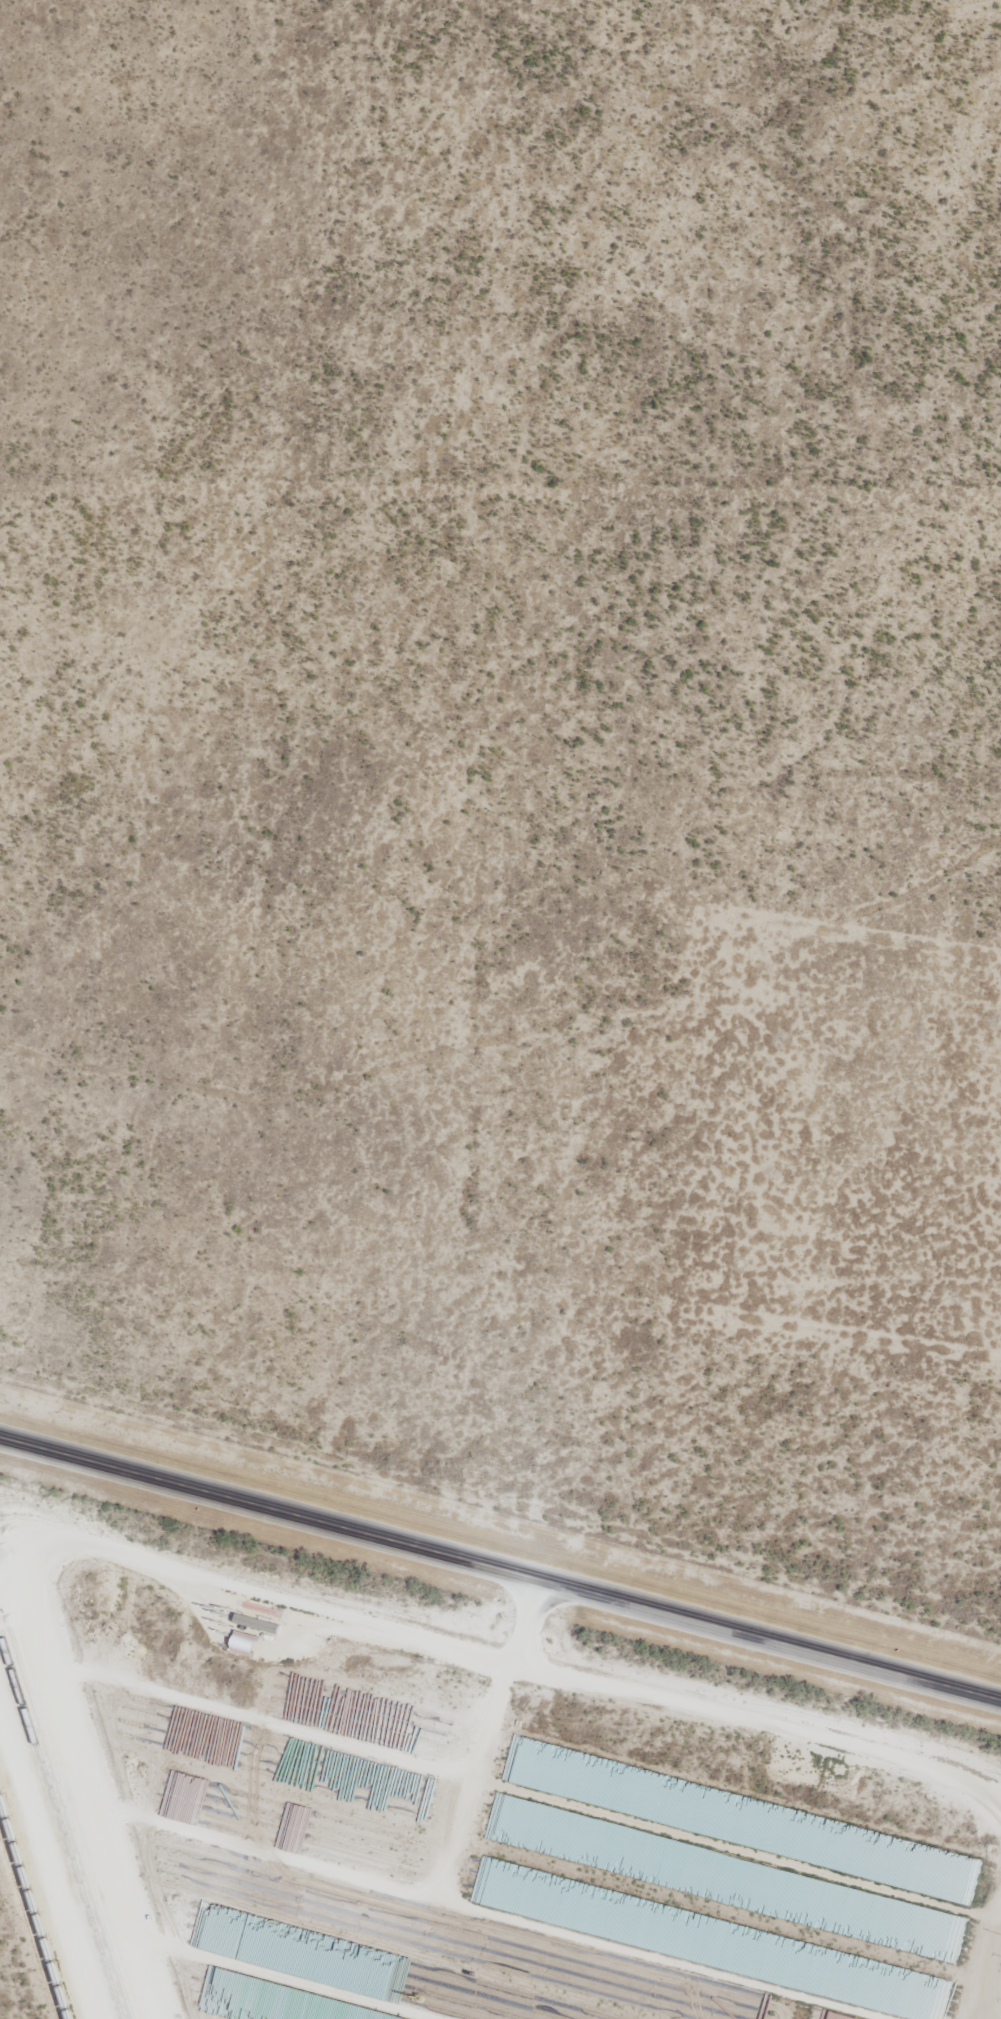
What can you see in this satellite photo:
airport: (845, 1129)
road: (501, 1570)
building: (245, 1644)

